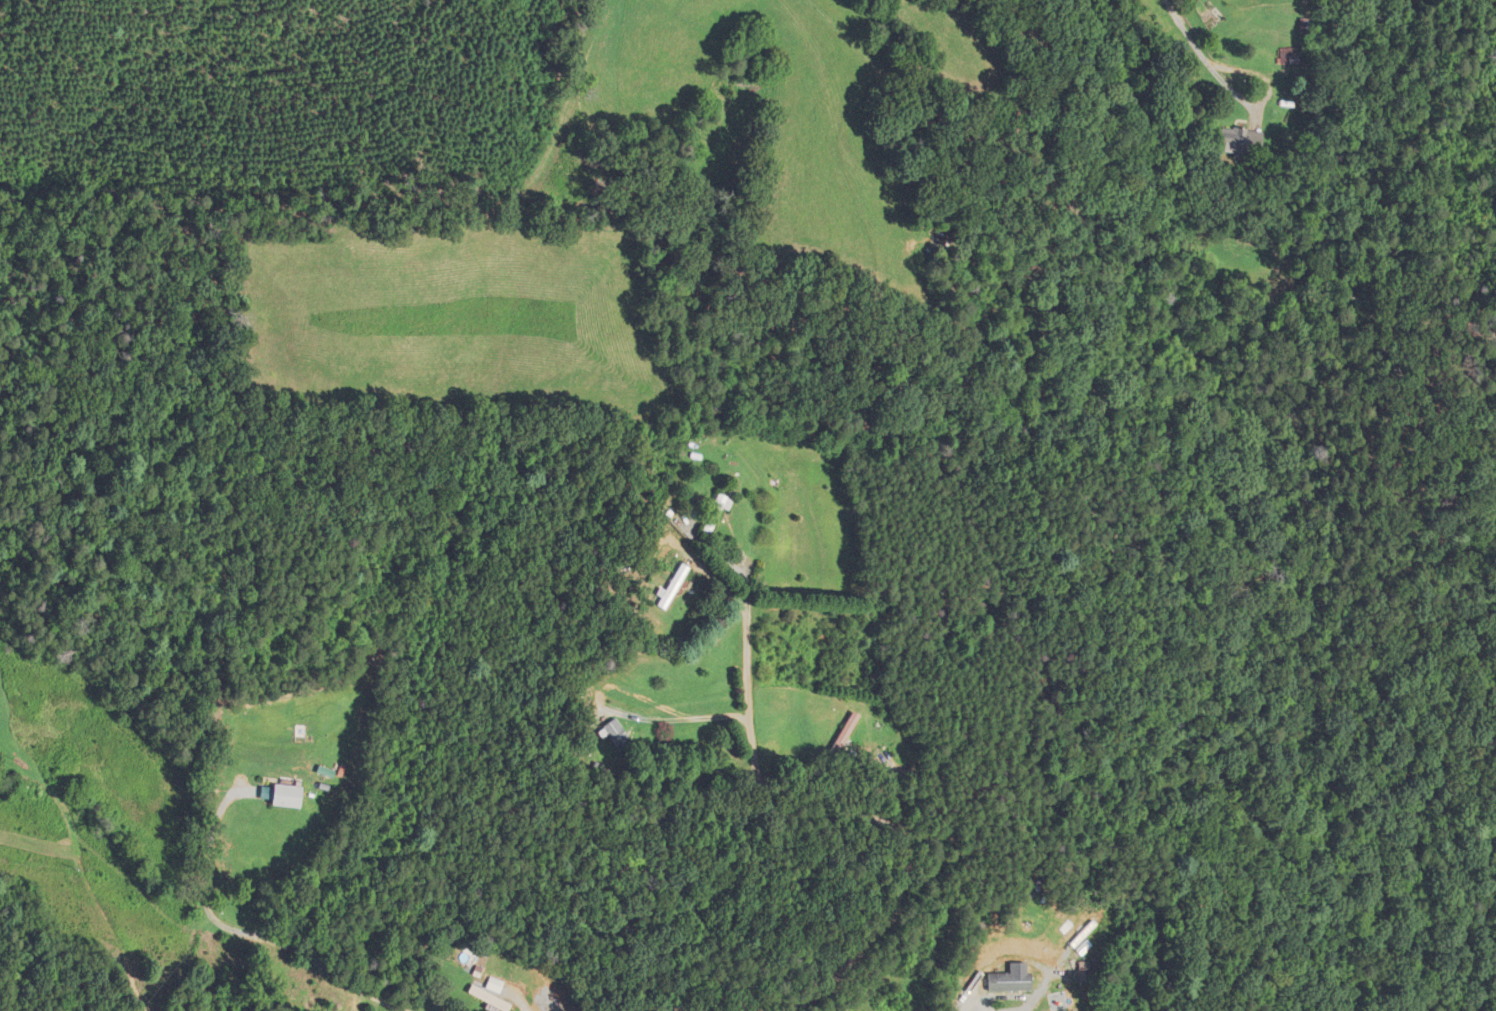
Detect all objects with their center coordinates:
building: (1234, 142)
building: (710, 513)
road: (692, 560)
building: (666, 587)
road: (621, 712)
building: (839, 734)
building: (608, 735)
building: (280, 795)
road: (847, 817)
road: (245, 929)
building: (1003, 979)
building: (491, 984)
building: (487, 1000)

